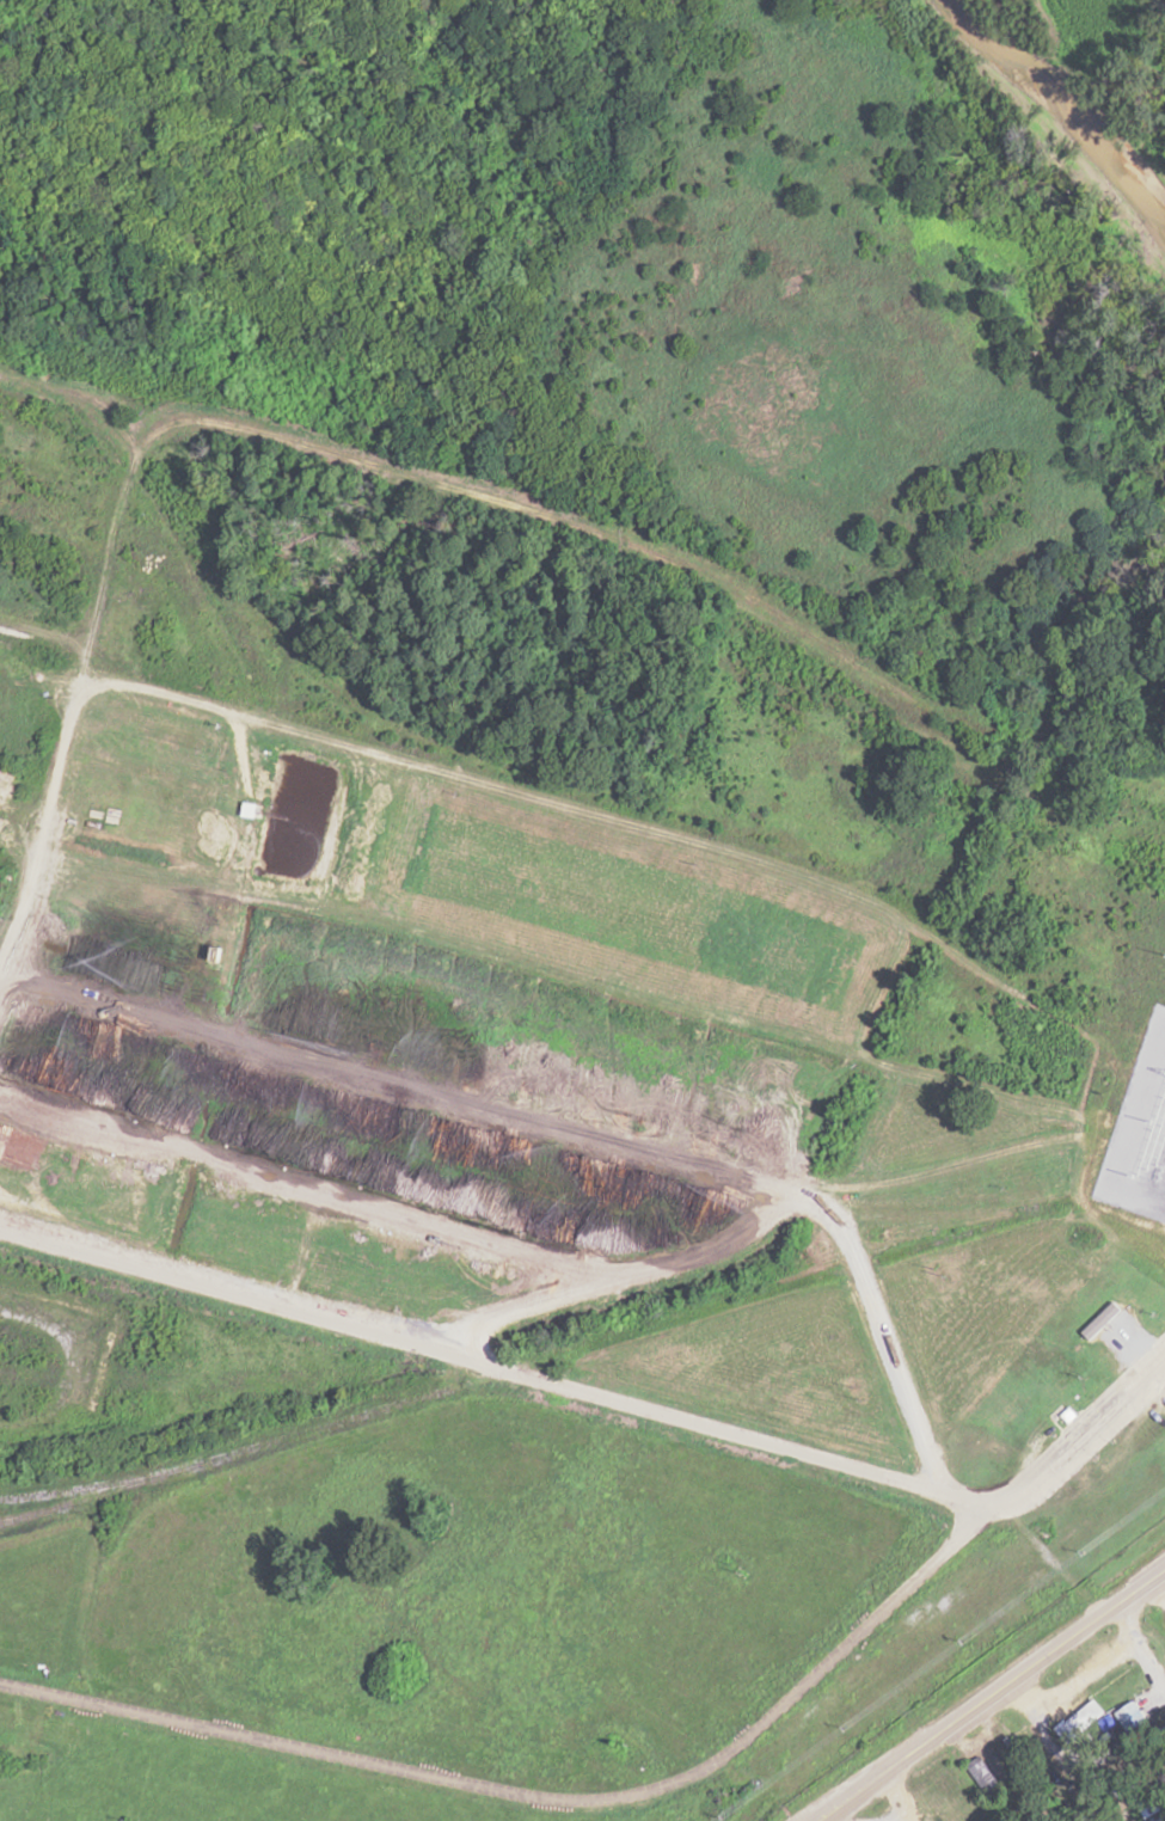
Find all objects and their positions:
river: (1041, 108)
road: (396, 409)
building: (217, 955)
railway: (536, 1360)
road: (497, 1371)
road: (992, 1693)
building: (1130, 1715)
building: (1080, 1722)
building: (987, 1780)
road: (660, 1782)

